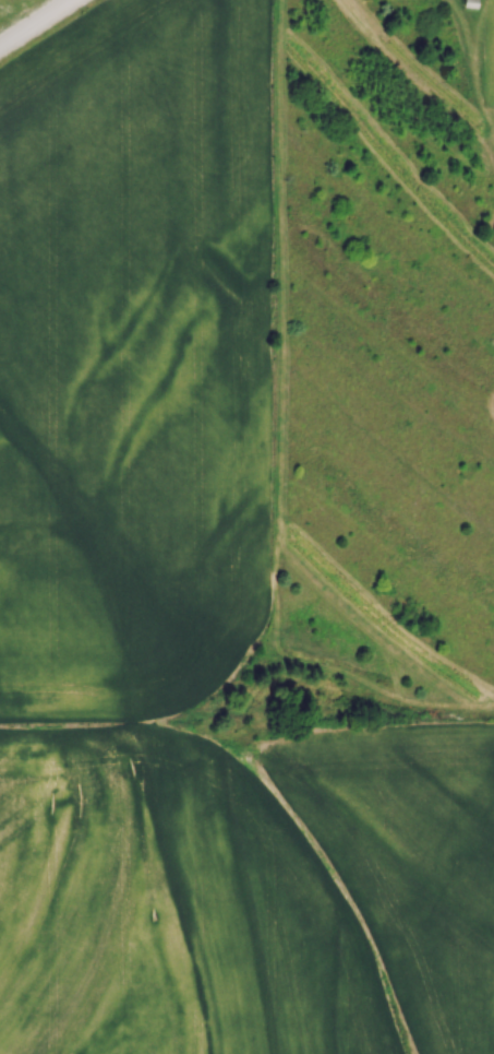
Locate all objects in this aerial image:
road: (35, 23)
crop: (132, 355)
crop: (246, 895)

